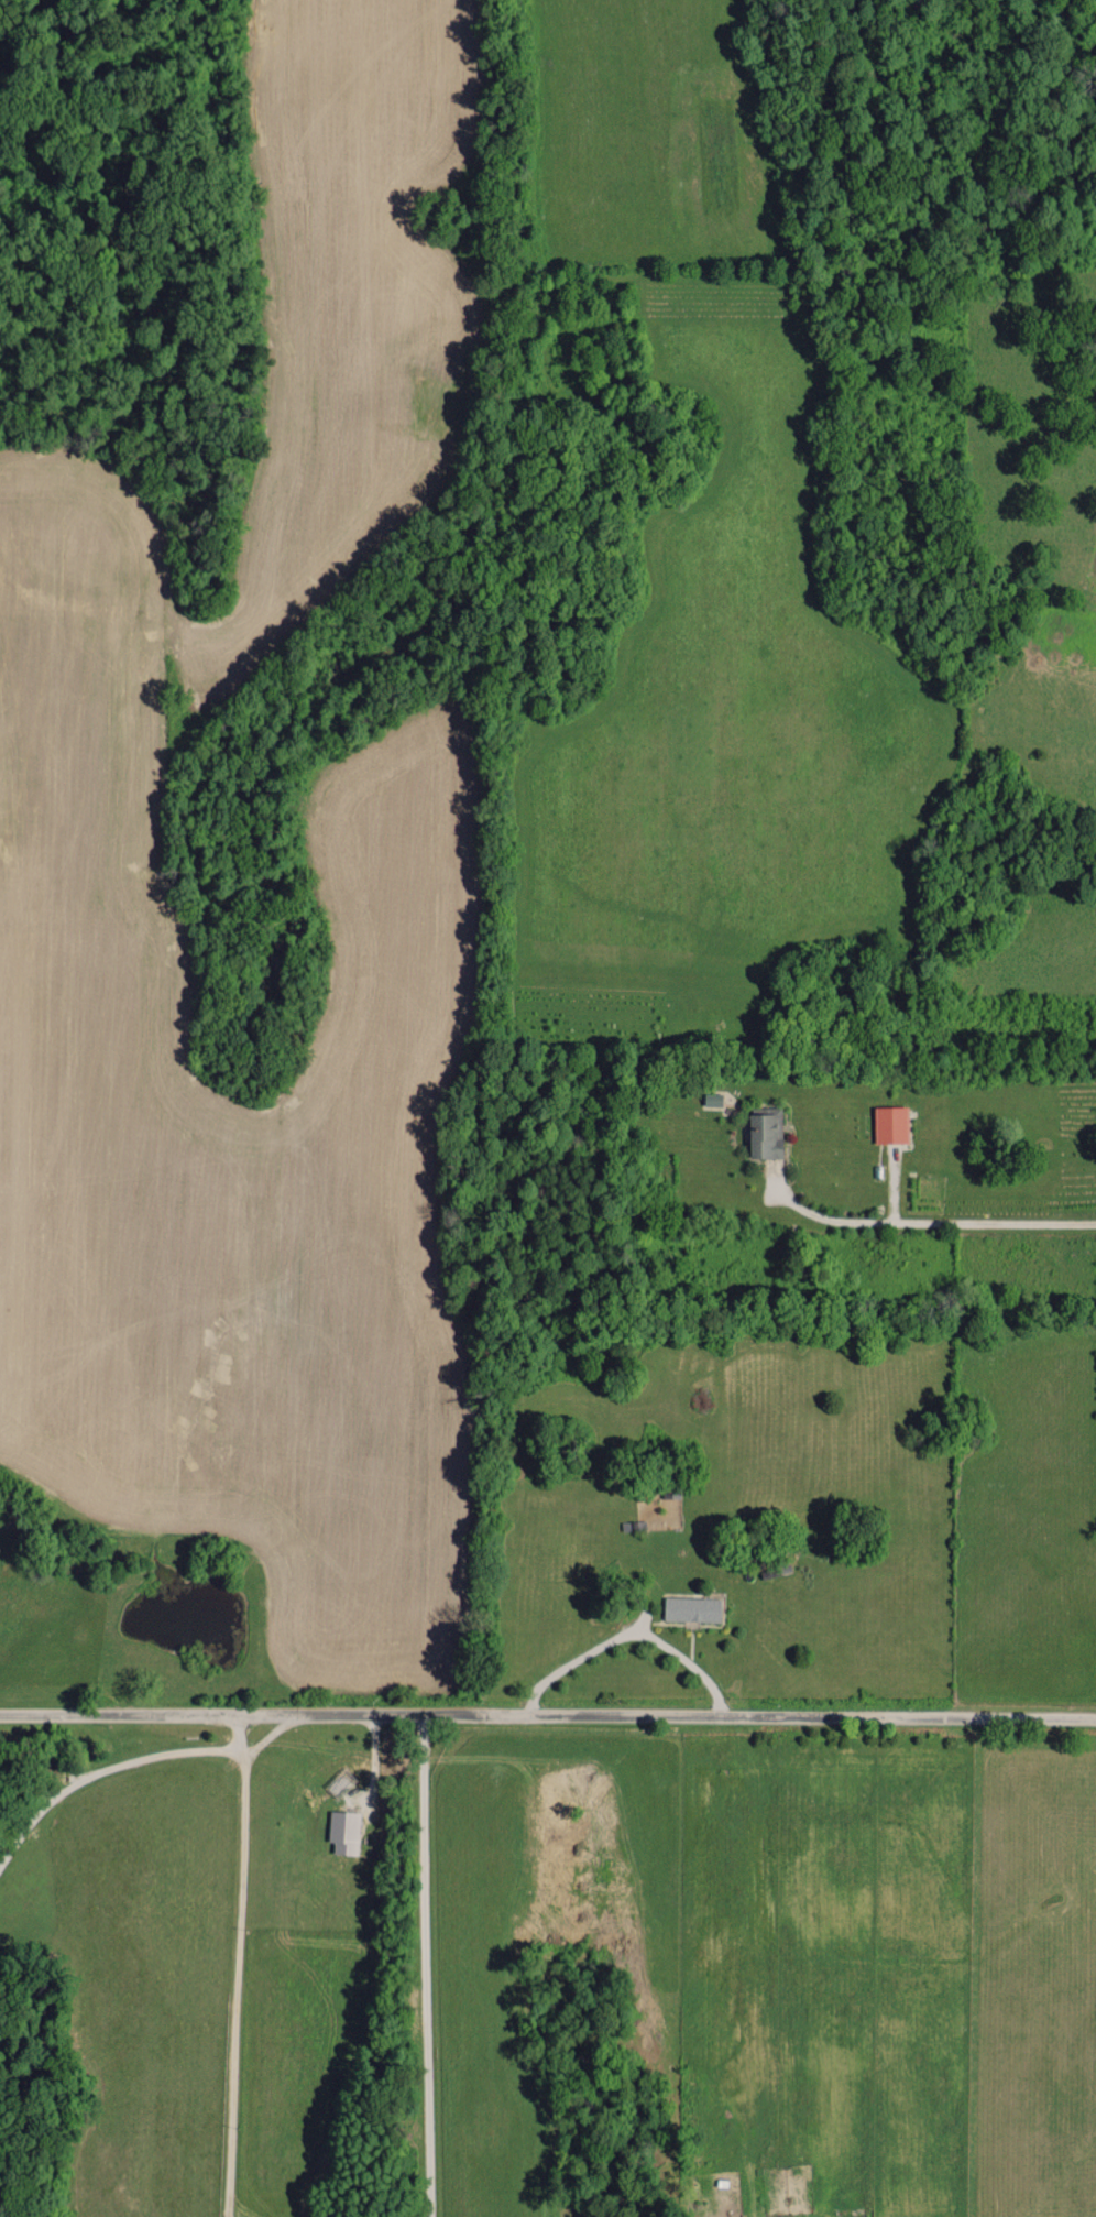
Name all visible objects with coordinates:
building: (713, 1099)
building: (890, 1123)
building: (765, 1131)
road: (933, 1219)
building: (691, 1608)
road: (626, 1632)
road: (547, 1716)
road: (103, 1768)
building: (343, 1831)
road: (239, 1966)
road: (425, 1966)

